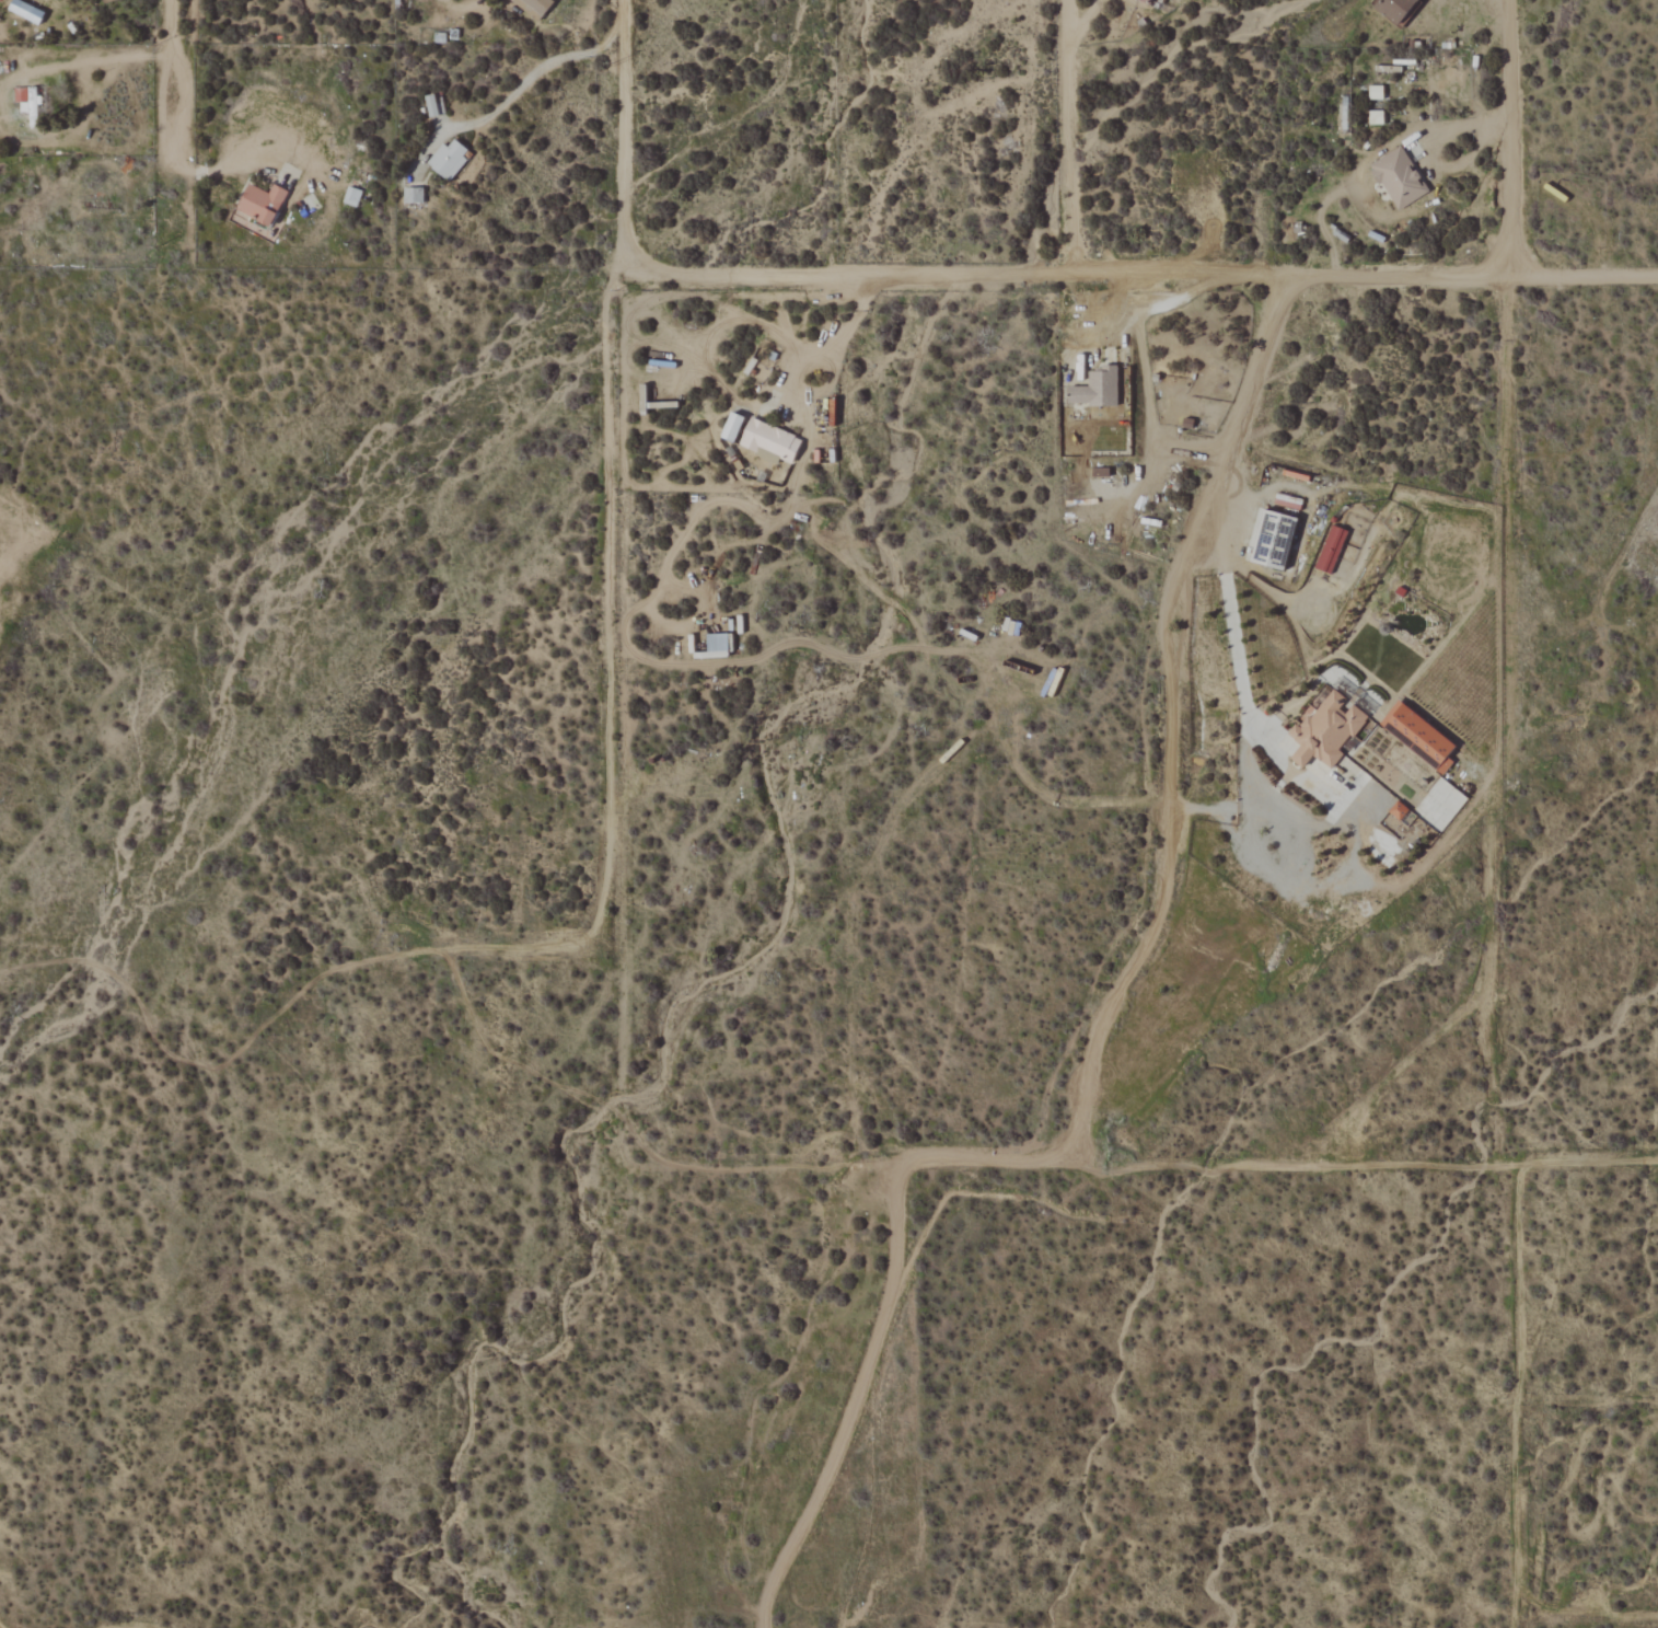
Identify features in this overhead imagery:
building: (1145, 1)
building: (532, 8)
building: (1395, 10)
building: (24, 11)
road: (125, 55)
road: (37, 72)
road: (534, 74)
road: (172, 82)
building: (1375, 93)
building: (27, 104)
building: (433, 106)
building: (1375, 118)
road: (625, 134)
road: (67, 136)
road: (1068, 138)
building: (448, 159)
building: (1398, 180)
building: (413, 196)
building: (259, 205)
road: (1139, 275)
road: (1125, 295)
road: (844, 335)
road: (1143, 368)
building: (1094, 389)
building: (730, 428)
building: (768, 442)
road: (1345, 485)
building: (1272, 540)
building: (1330, 549)
road: (1495, 580)
building: (717, 644)
road: (1245, 691)
building: (1325, 731)
road: (1030, 783)
road: (1095, 1023)
road: (1577, 1162)

